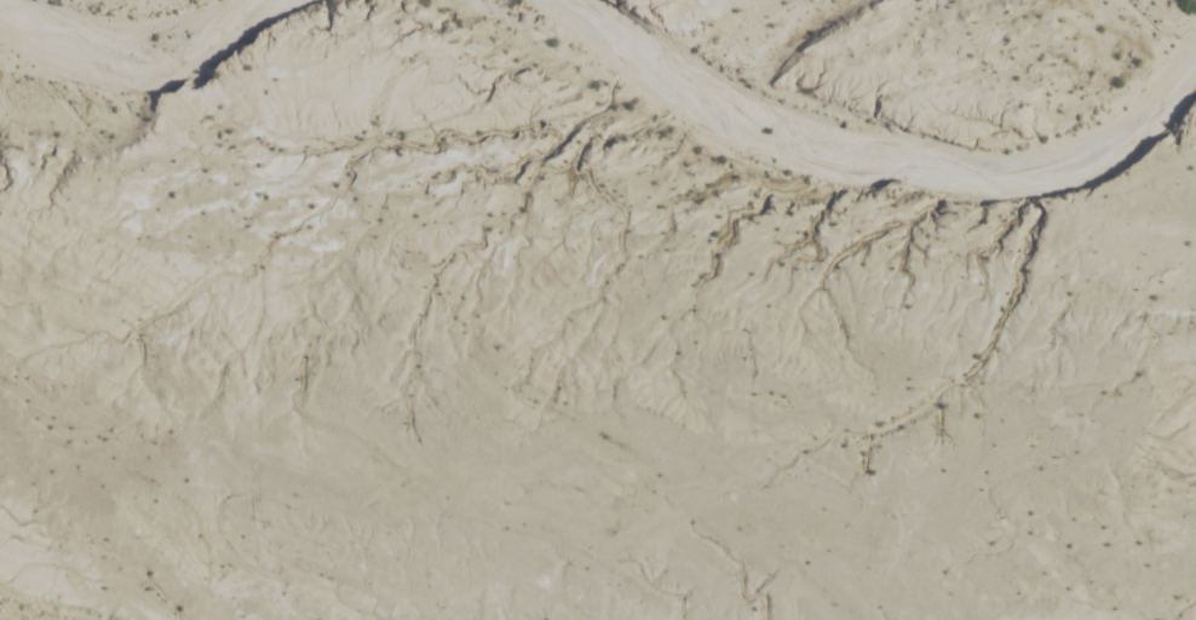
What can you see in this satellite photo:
road: (136, 62)
road: (868, 162)

